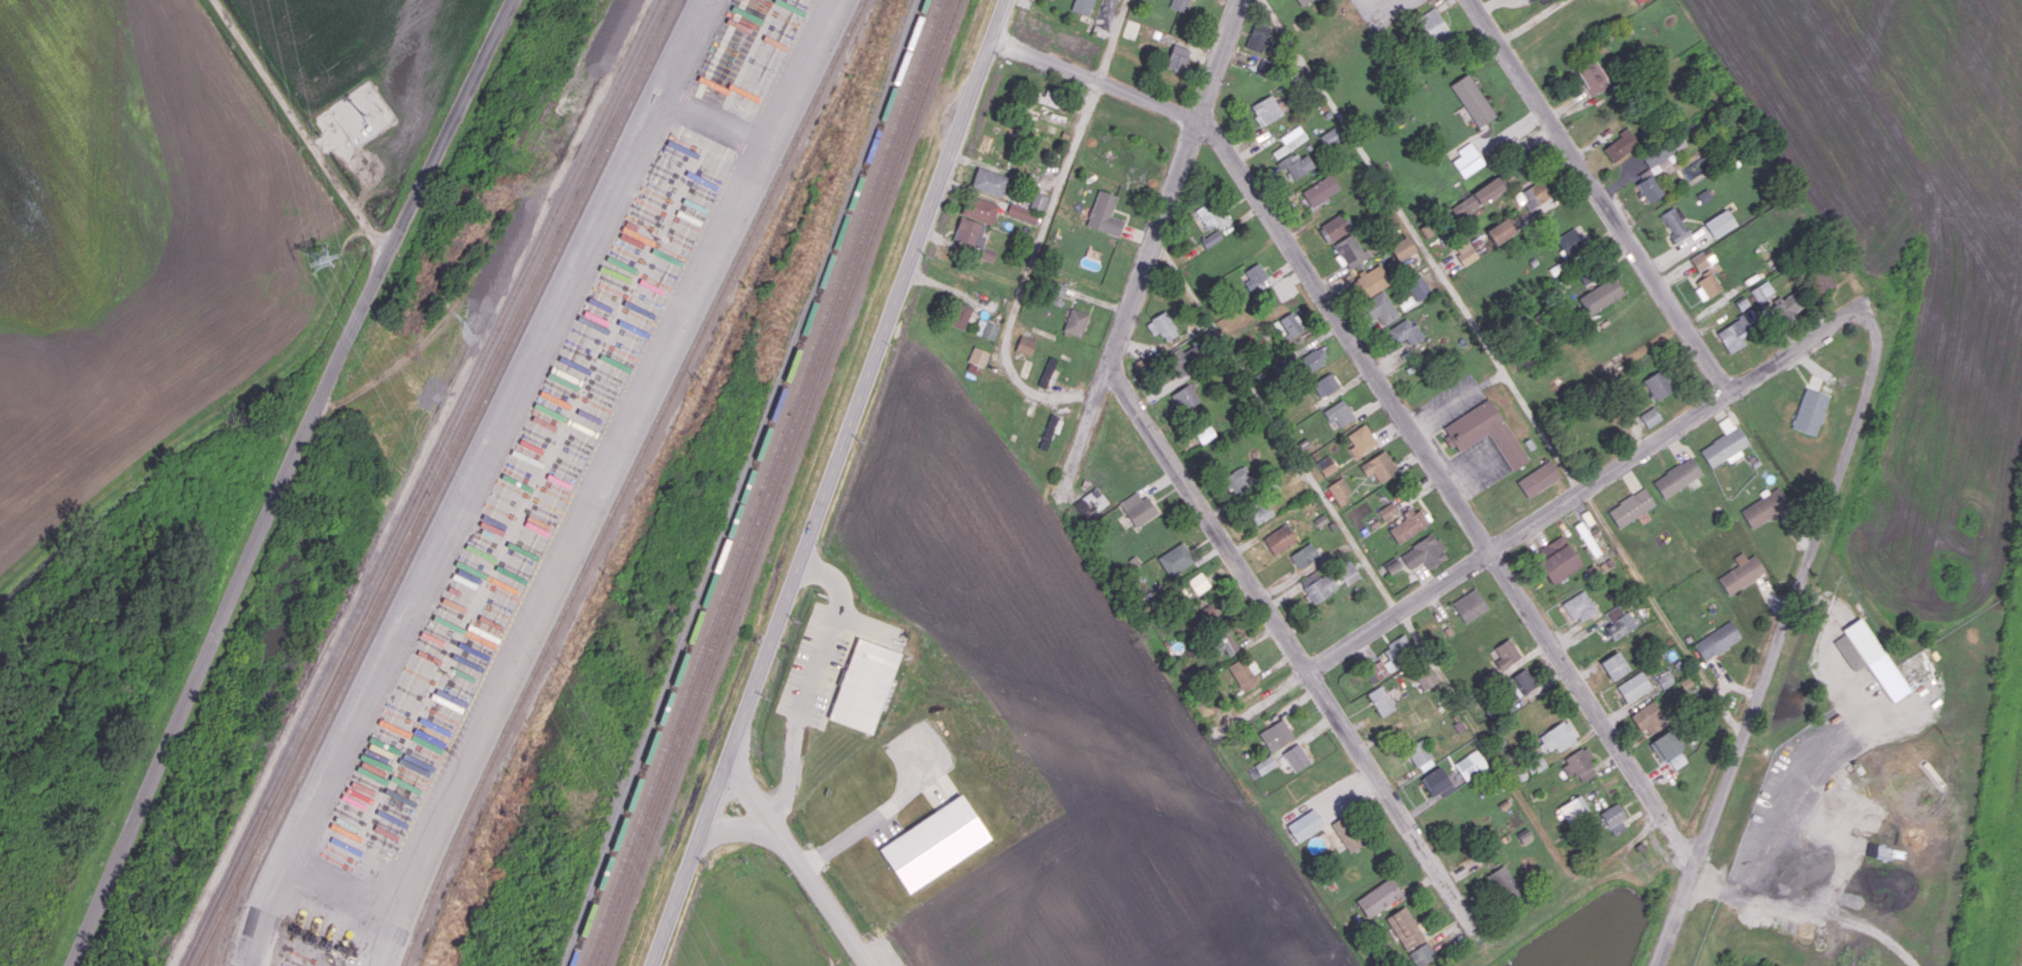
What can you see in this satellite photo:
building: (1301, 1)
building: (1639, 1)
road: (1381, 3)
building: (1179, 5)
building: (1083, 6)
road: (229, 17)
road: (1531, 20)
building: (1433, 27)
building: (1131, 29)
building: (1258, 36)
road: (1115, 40)
crop: (370, 56)
building: (1177, 57)
building: (1265, 68)
building: (1591, 76)
building: (1048, 97)
building: (1472, 100)
building: (1266, 110)
building: (1042, 125)
building: (1330, 137)
building: (1290, 141)
road: (316, 144)
building: (1620, 145)
building: (1664, 155)
building: (1467, 159)
building: (1295, 166)
building: (988, 182)
crop: (1915, 182)
building: (1648, 186)
building: (1321, 190)
building: (1536, 193)
road: (1601, 195)
building: (1704, 195)
building: (1477, 198)
building: (1038, 201)
building: (980, 210)
building: (1022, 213)
building: (1104, 214)
building: (1212, 214)
building: (1720, 223)
building: (1675, 224)
building: (1335, 227)
building: (969, 231)
building: (1500, 231)
building: (1211, 239)
building: (1570, 241)
building: (1477, 244)
road: (1421, 245)
road: (1153, 246)
building: (1401, 248)
crop: (132, 250)
building: (1350, 250)
building: (1466, 252)
power tower: (317, 258)
building: (1703, 259)
road: (1027, 268)
building: (1253, 275)
building: (1822, 279)
building: (1372, 280)
building: (1707, 285)
building: (1418, 287)
building: (1762, 291)
building: (1055, 292)
building: (1600, 296)
building: (1786, 305)
building: (959, 315)
building: (1075, 321)
building: (1291, 324)
building: (1162, 326)
building: (985, 329)
building: (1404, 331)
building: (1734, 334)
building: (1025, 345)
building: (977, 356)
building: (1184, 358)
building: (1310, 361)
building: (1047, 372)
building: (1325, 384)
building: (1658, 384)
road: (1388, 396)
building: (1185, 397)
road: (1456, 399)
building: (1810, 411)
building: (1339, 413)
building: (1650, 416)
road: (1277, 426)
road: (494, 430)
building: (1050, 430)
building: (1487, 433)
building: (1205, 434)
building: (1361, 440)
building: (1725, 443)
building: (1326, 465)
building: (1378, 466)
building: (1677, 477)
road: (287, 478)
building: (1538, 478)
railway: (445, 480)
railway: (627, 480)
building: (1237, 480)
railway: (421, 482)
railway: (433, 482)
railway: (761, 482)
railway: (771, 482)
road: (827, 482)
railway: (748, 483)
railway: (781, 483)
road: (1583, 488)
building: (1339, 491)
road: (588, 498)
building: (1090, 503)
building: (1631, 507)
building: (1764, 507)
building: (1137, 508)
building: (1386, 511)
building: (1259, 512)
building: (1408, 524)
building: (1278, 538)
building: (1424, 552)
building: (1304, 555)
building: (1175, 558)
building: (1556, 559)
building: (1392, 567)
building: (1347, 572)
building: (1741, 573)
building: (1198, 583)
building: (1316, 586)
building: (1469, 605)
building: (1578, 606)
road: (1662, 613)
building: (1206, 615)
road: (865, 626)
building: (1619, 626)
road: (1780, 634)
building: (1717, 640)
building: (1224, 641)
road: (1291, 645)
building: (1506, 653)
building: (1869, 657)
building: (1392, 658)
building: (1614, 665)
building: (1244, 673)
building: (1425, 678)
building: (1664, 679)
building: (1522, 681)
road: (810, 683)
building: (862, 684)
building: (1633, 686)
building: (1380, 700)
building: (1648, 717)
crop: (1062, 718)
building: (1276, 735)
building: (1558, 736)
building: (1665, 745)
building: (1420, 755)
building: (1296, 757)
building: (1677, 760)
building: (1470, 764)
building: (1579, 764)
building: (1536, 765)
building: (1262, 766)
building: (1437, 782)
road: (755, 797)
building: (1573, 808)
road: (875, 817)
building: (1614, 818)
road: (1795, 820)
building: (1305, 825)
road: (738, 828)
building: (1347, 833)
building: (934, 843)
building: (1504, 883)
building: (1378, 897)
road: (822, 900)
road: (257, 911)
railway: (228, 915)
building: (1405, 927)
building: (1422, 954)

